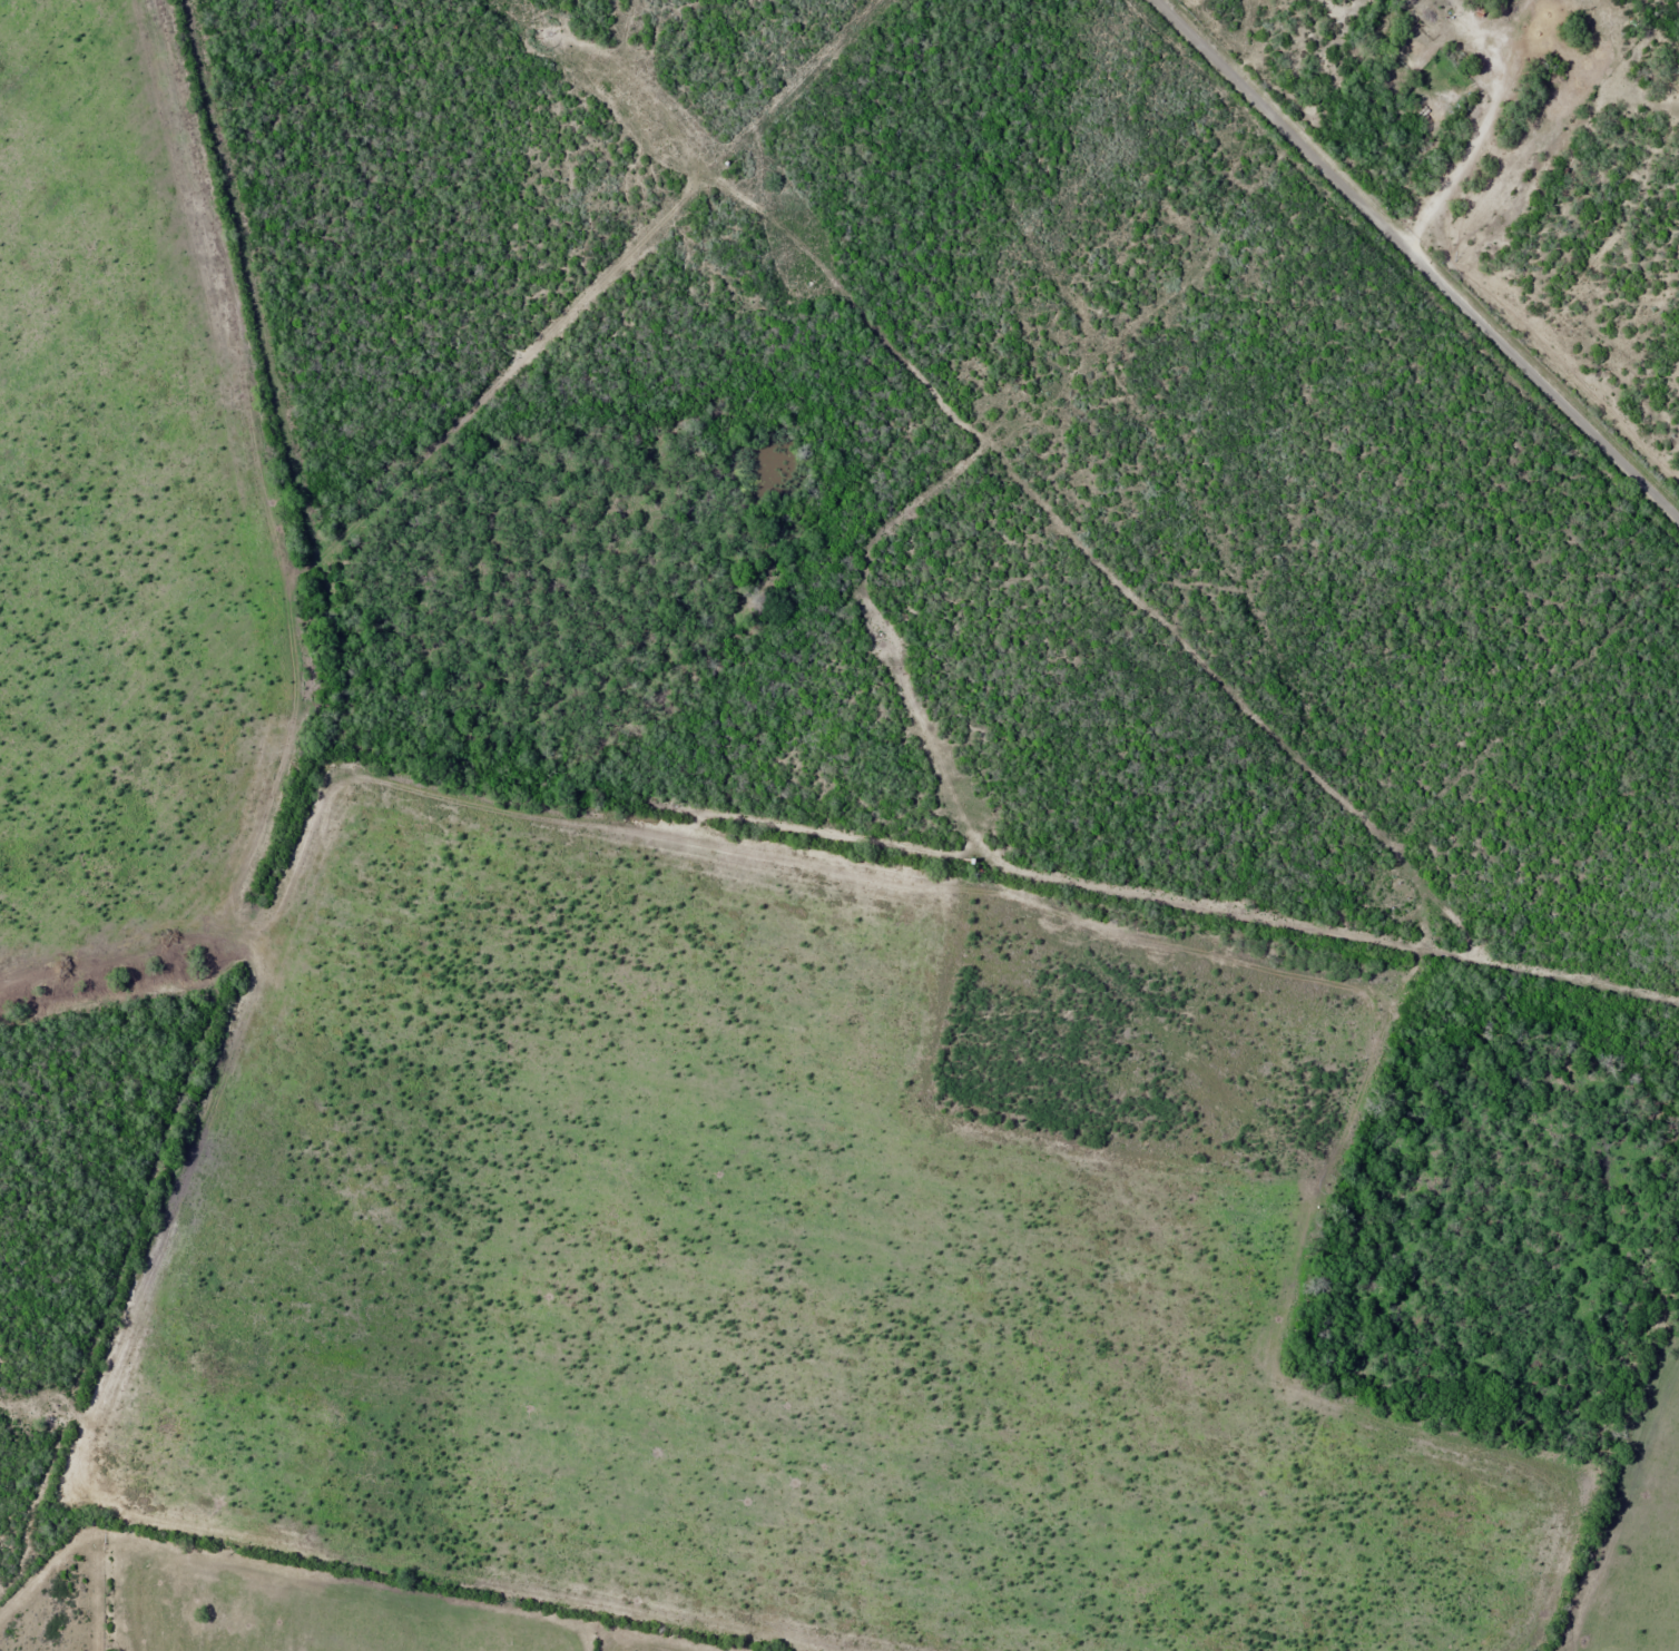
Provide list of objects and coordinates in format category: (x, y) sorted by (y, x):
road: (1416, 259)

